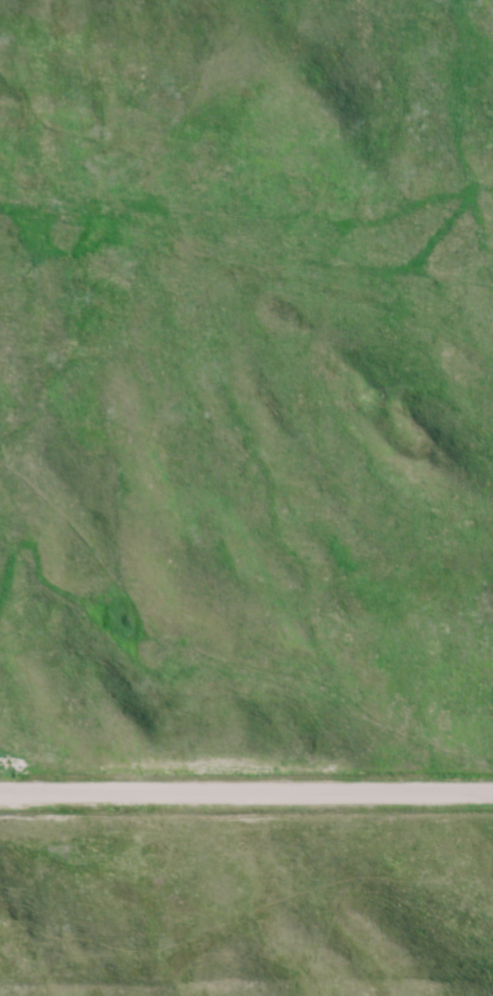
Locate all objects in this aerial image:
road: (246, 797)

